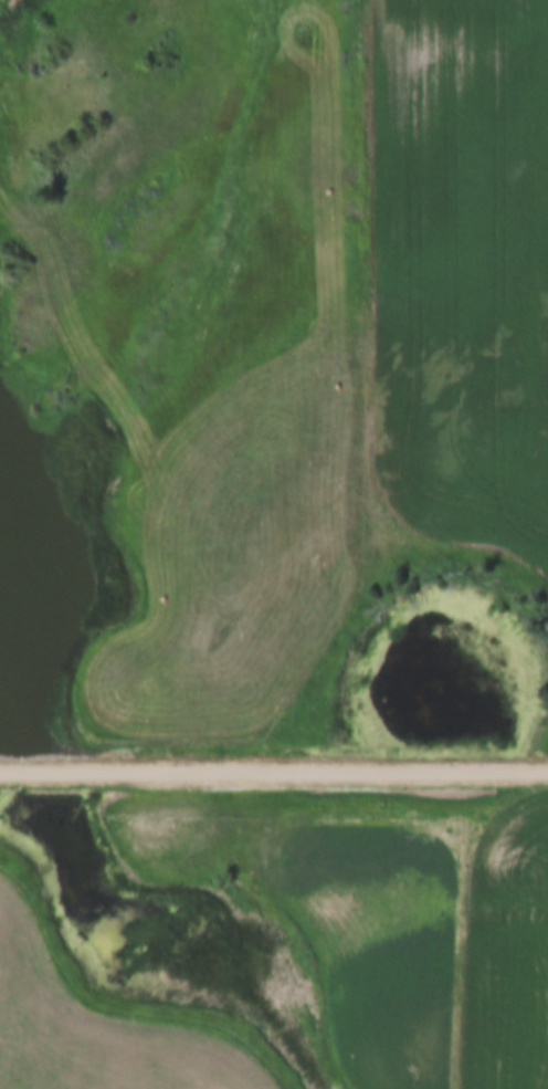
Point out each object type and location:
road: (274, 765)

